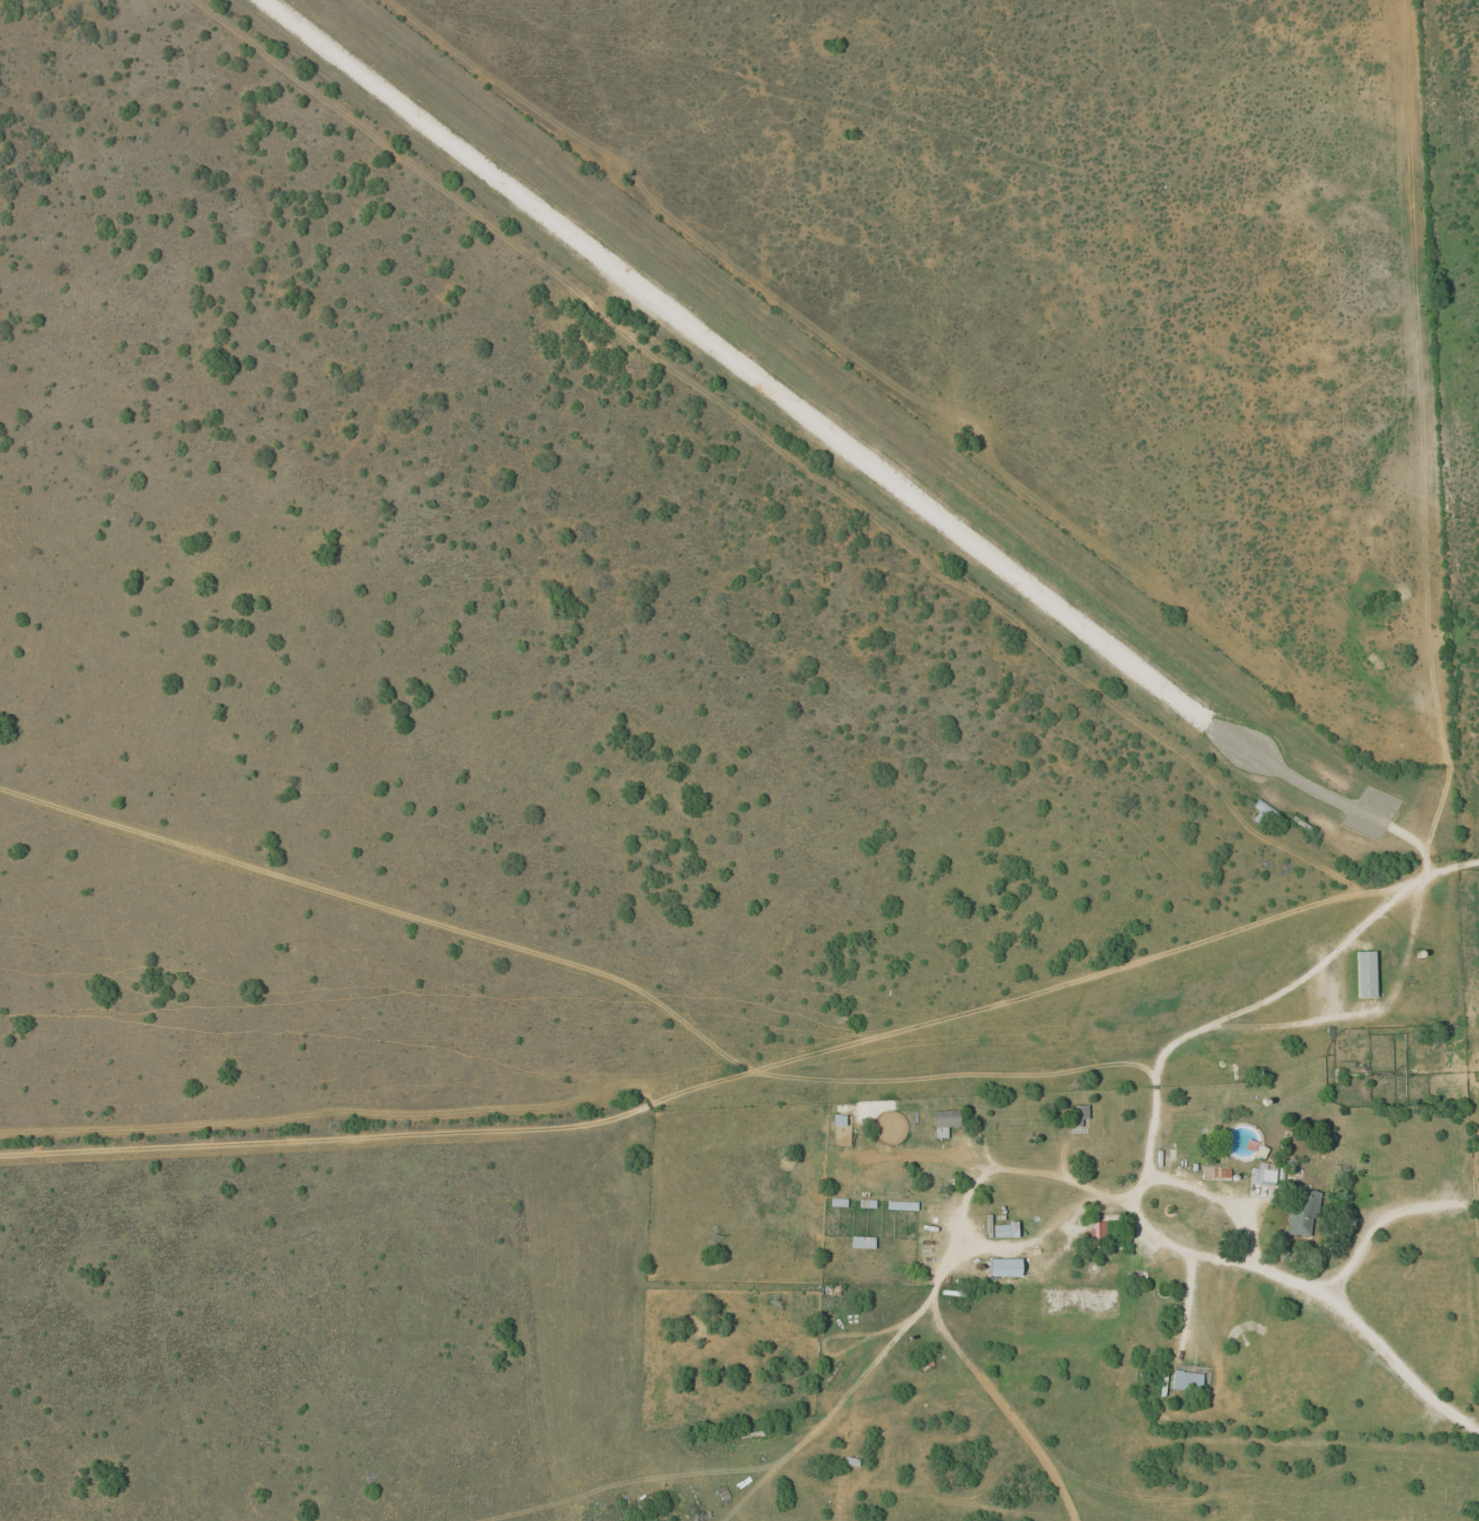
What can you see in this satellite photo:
airport runway: (737, 362)
building: (1263, 812)
building: (1365, 973)
road: (784, 1073)
road: (750, 1080)
building: (1079, 1114)
building: (838, 1119)
building: (946, 1120)
building: (1215, 1173)
building: (1262, 1174)
building: (1301, 1211)
road: (1393, 1228)
building: (1004, 1229)
building: (1099, 1232)
building: (861, 1241)
building: (1004, 1266)
building: (1186, 1380)

